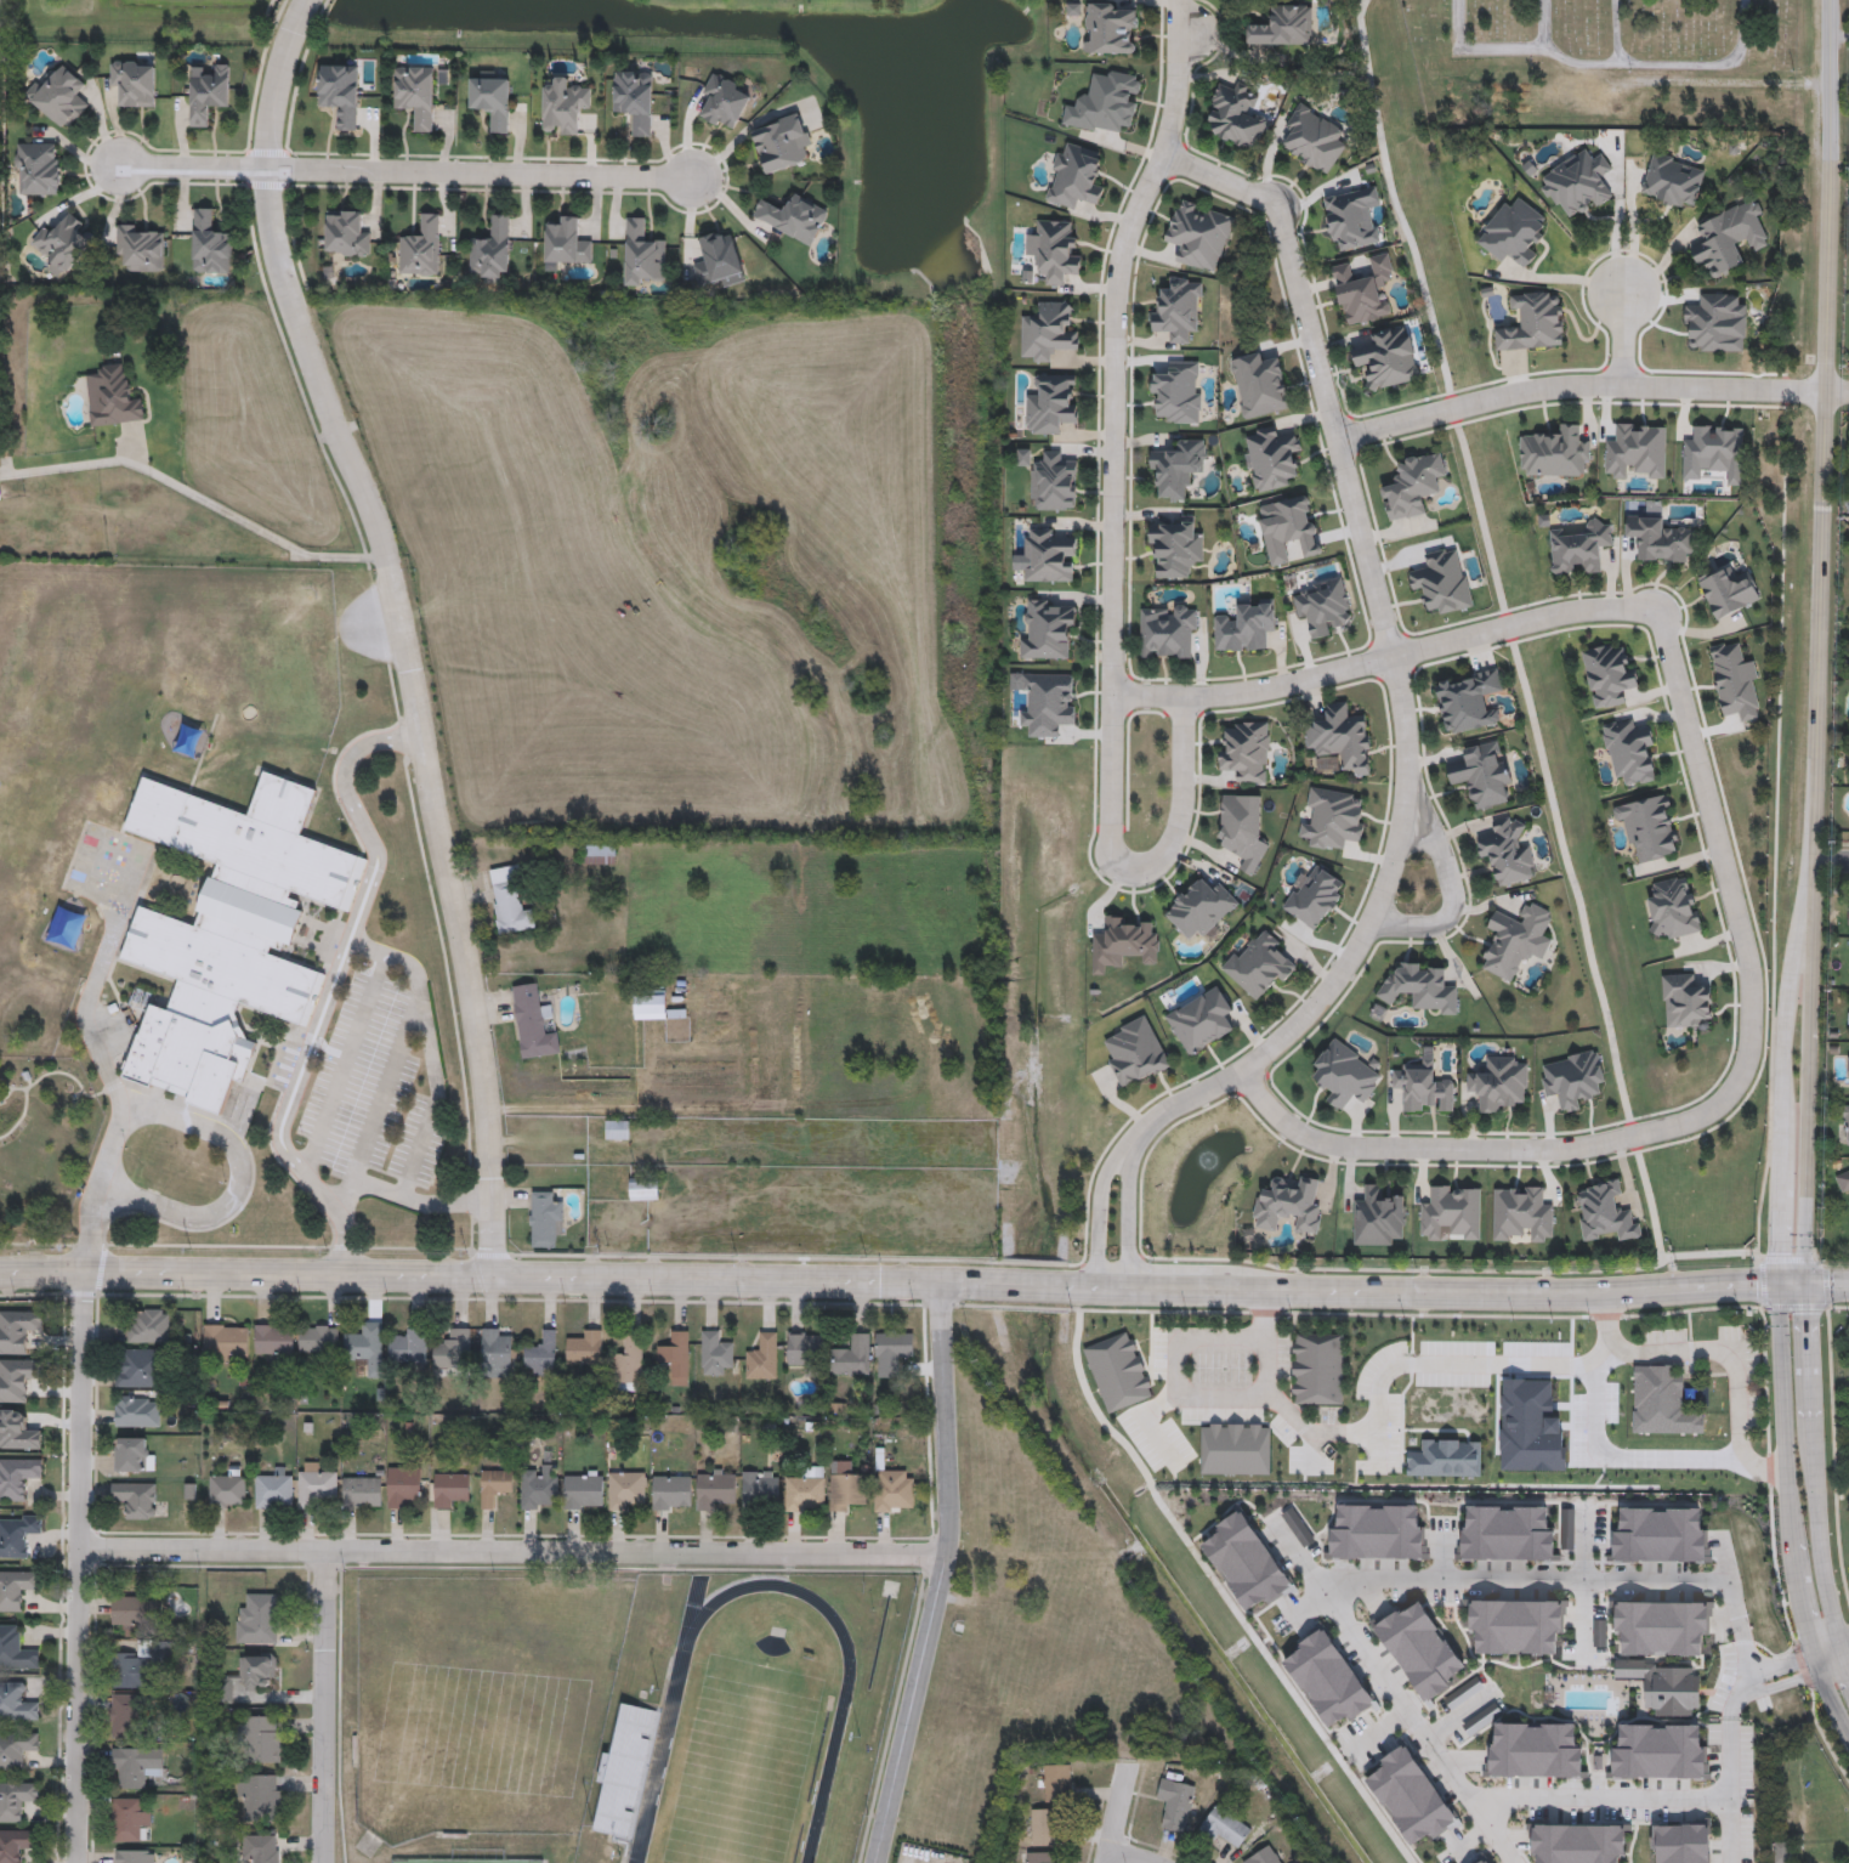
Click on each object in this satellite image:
building: (1282, 26)
building: (1110, 28)
road: (1601, 62)
park: (1605, 63)
building: (134, 81)
building: (206, 94)
building: (339, 94)
building: (414, 95)
building: (58, 97)
building: (634, 100)
building: (490, 101)
building: (725, 101)
building: (1104, 102)
building: (562, 107)
building: (1236, 114)
building: (1312, 138)
building: (779, 143)
road: (189, 168)
building: (36, 169)
road: (480, 175)
building: (1073, 175)
building: (1672, 180)
building: (1576, 182)
road: (1830, 196)
building: (792, 216)
building: (1349, 219)
building: (1511, 232)
building: (345, 234)
building: (1197, 234)
building: (1728, 237)
building: (61, 243)
building: (565, 243)
building: (209, 244)
building: (140, 247)
building: (420, 248)
building: (1054, 250)
building: (490, 251)
building: (642, 255)
building: (718, 259)
building: (1362, 289)
building: (1178, 305)
building: (1047, 332)
road: (1621, 334)
building: (1388, 358)
building: (1260, 384)
road: (1578, 385)
building: (1176, 390)
road: (1838, 392)
building: (112, 396)
building: (1051, 403)
building: (1635, 451)
building: (1555, 453)
building: (1271, 457)
building: (1176, 468)
building: (1054, 482)
building: (1411, 485)
road: (199, 498)
building: (0, 500)
building: (1289, 530)
road: (1112, 538)
building: (1658, 538)
building: (1579, 547)
building: (1174, 549)
building: (1048, 556)
building: (1442, 581)
building: (1322, 605)
building: (1244, 625)
road: (403, 628)
building: (1047, 629)
building: (1167, 632)
crop: (688, 634)
road: (1385, 662)
road: (1822, 673)
building: (1609, 674)
building: (1734, 681)
road: (1521, 683)
building: (1468, 700)
building: (1047, 702)
road: (1403, 734)
building: (1340, 737)
building: (1629, 751)
building: (1246, 752)
building: (1481, 774)
building: (1332, 817)
building: (1650, 826)
building: (1241, 829)
building: (1508, 850)
building: (599, 854)
road: (1832, 855)
road: (1453, 889)
building: (1314, 895)
building: (509, 901)
building: (1199, 907)
building: (1673, 907)
building: (226, 927)
building: (1515, 940)
building: (1122, 942)
building: (1258, 964)
road: (331, 985)
building: (1419, 986)
building: (1685, 1001)
building: (653, 1004)
building: (1848, 1018)
building: (1201, 1019)
building: (533, 1023)
road: (427, 1051)
building: (1134, 1051)
road: (103, 1061)
road: (345, 1064)
building: (1344, 1074)
building: (1571, 1077)
building: (1498, 1082)
building: (1422, 1087)
road: (386, 1089)
road: (1719, 1106)
road: (1783, 1112)
crop: (777, 1122)
building: (1845, 1127)
building: (617, 1133)
building: (1843, 1183)
road: (237, 1184)
building: (643, 1189)
road: (403, 1200)
building: (1288, 1206)
building: (1450, 1212)
building: (1604, 1212)
building: (1520, 1213)
building: (1377, 1217)
building: (545, 1221)
road: (1792, 1261)
road: (494, 1278)
traffic signals: (1781, 1282)
traffic signals: (1810, 1282)
road: (1763, 1284)
road: (1826, 1284)
road: (1031, 1285)
road: (1461, 1292)
road: (1796, 1308)
road: (1811, 1309)
building: (148, 1325)
building: (318, 1337)
building: (273, 1338)
building: (225, 1342)
road: (1266, 1343)
building: (364, 1344)
building: (408, 1346)
building: (452, 1348)
building: (497, 1348)
building: (584, 1348)
building: (805, 1348)
building: (714, 1352)
building: (891, 1352)
building: (540, 1353)
building: (851, 1354)
building: (675, 1355)
building: (761, 1357)
road: (1729, 1361)
building: (629, 1363)
road: (1473, 1365)
building: (140, 1367)
road: (1175, 1367)
building: (1317, 1367)
building: (16, 1378)
building: (1662, 1402)
building: (136, 1411)
building: (18, 1429)
road: (1315, 1431)
building: (1233, 1449)
building: (131, 1455)
building: (1447, 1459)
building: (17, 1477)
building: (313, 1482)
building: (494, 1484)
building: (402, 1487)
building: (539, 1487)
building: (448, 1488)
building: (846, 1488)
building: (227, 1489)
building: (273, 1489)
building: (713, 1489)
building: (760, 1489)
building: (583, 1490)
building: (626, 1490)
building: (670, 1490)
building: (805, 1490)
building: (894, 1490)
building: (361, 1491)
building: (135, 1497)
road: (1790, 1514)
building: (1377, 1531)
building: (1507, 1533)
building: (17, 1534)
building: (1660, 1534)
road: (1294, 1551)
road: (514, 1552)
road: (1442, 1553)
building: (1246, 1559)
road: (79, 1569)
road: (941, 1576)
road: (1371, 1579)
road: (1583, 1580)
road: (1214, 1584)
building: (16, 1587)
road: (1310, 1606)
building: (136, 1609)
building: (257, 1618)
building: (1515, 1625)
building: (1661, 1625)
road: (1845, 1646)
building: (1419, 1648)
building: (16, 1649)
road: (1830, 1652)
building: (129, 1670)
road: (1760, 1670)
building: (248, 1674)
building: (1328, 1677)
building: (1666, 1684)
road: (1740, 1695)
building: (16, 1701)
road: (323, 1708)
building: (125, 1715)
road: (1383, 1728)
building: (260, 1737)
building: (17, 1748)
building: (1535, 1750)
building: (1660, 1751)
building: (136, 1763)
park: (743, 1763)
building: (626, 1772)
track: (653, 1779)
building: (1056, 1783)
road: (1729, 1790)
building: (1410, 1795)
building: (257, 1796)
road: (1599, 1797)
building: (15, 1799)
building: (1176, 1803)
road: (1117, 1813)
building: (129, 1818)
building: (1045, 1827)
building: (1225, 1828)
road: (1473, 1837)
building: (1578, 1842)
building: (15, 1844)
building: (1681, 1844)
building: (260, 1847)
building: (135, 1856)
building: (1263, 1856)
building: (1042, 1857)
road: (1129, 1857)
park: (409, 1859)
park: (447, 1861)
park: (486, 1861)
park: (523, 1861)
building: (1484, 1861)

